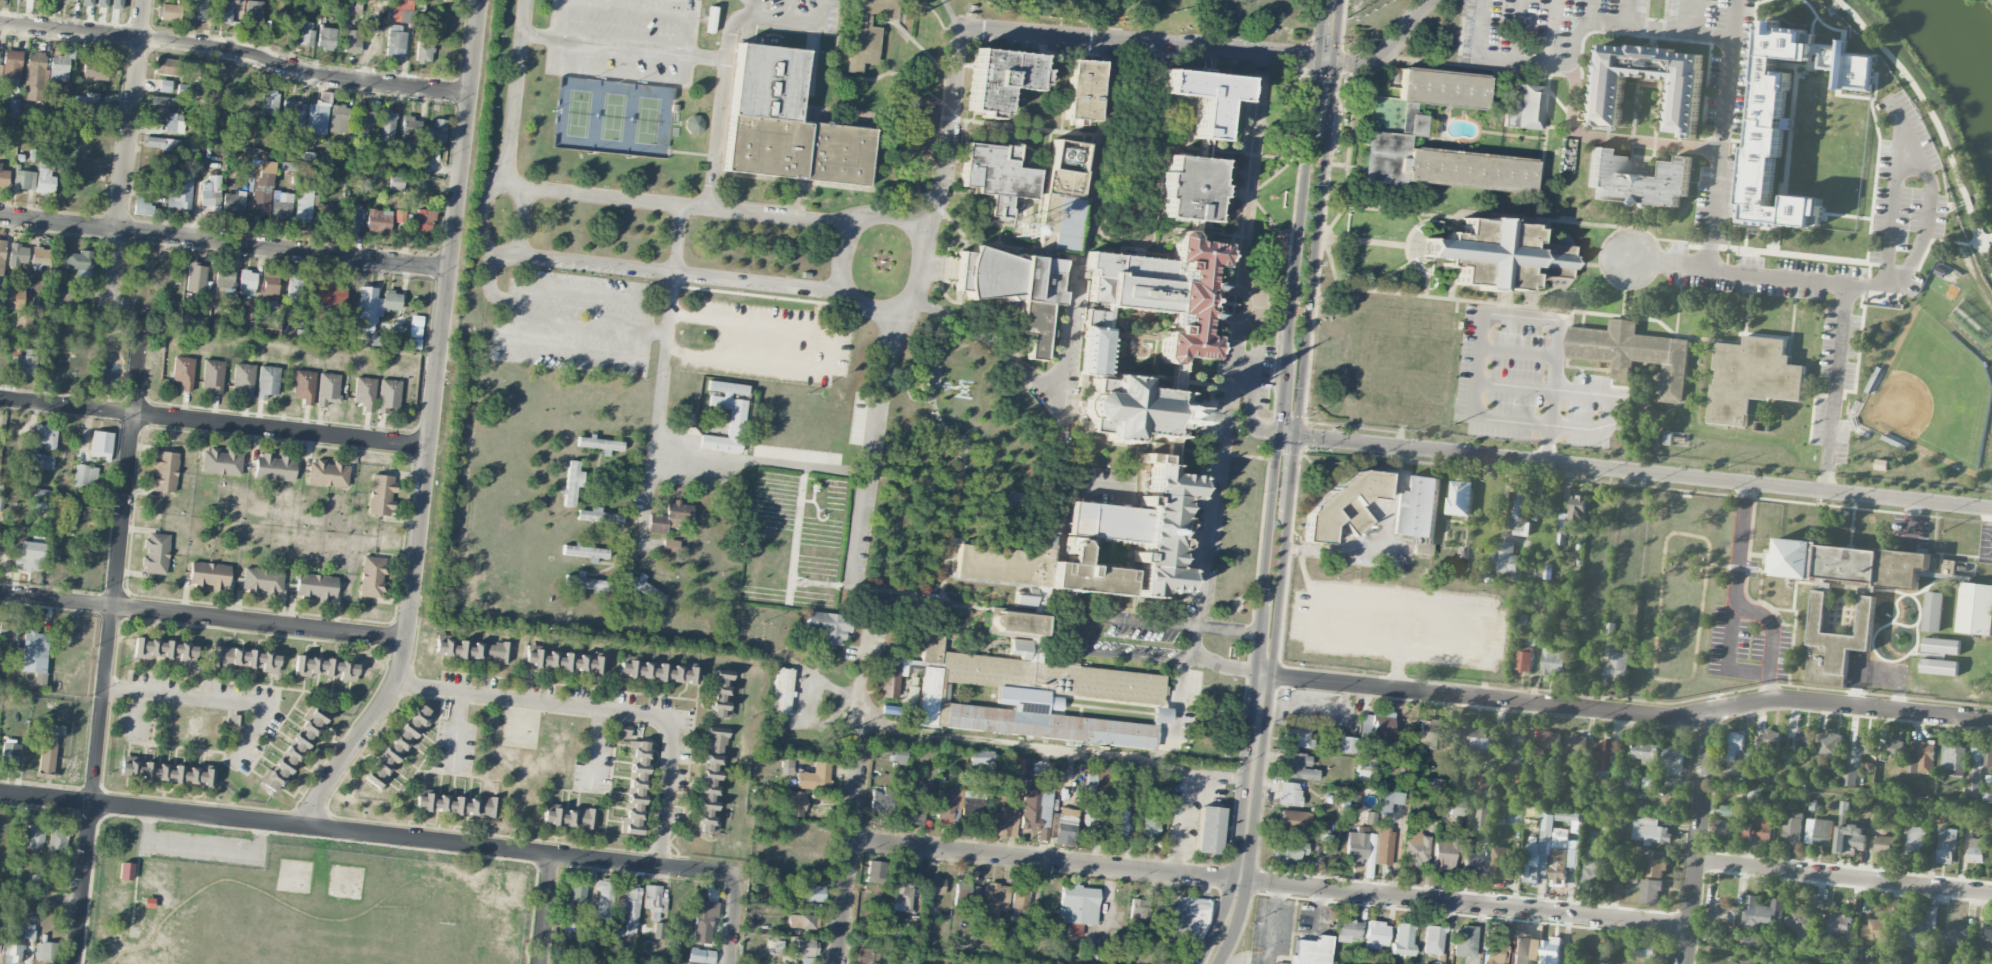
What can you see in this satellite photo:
building: (68, 0)
building: (87, 2)
building: (102, 3)
building: (117, 4)
road: (751, 8)
building: (198, 9)
road: (648, 9)
building: (254, 10)
building: (401, 10)
road: (786, 10)
building: (224, 11)
road: (1588, 11)
building: (170, 12)
road: (820, 12)
road: (1623, 13)
road: (952, 15)
road: (1692, 16)
park: (1195, 17)
road: (557, 18)
road: (1403, 28)
road: (1328, 29)
road: (1516, 30)
building: (867, 31)
road: (1552, 32)
building: (306, 33)
road: (537, 34)
road: (1036, 35)
building: (326, 37)
building: (395, 40)
parking lot: (624, 40)
building: (352, 41)
road: (621, 43)
road: (1577, 48)
road: (236, 50)
building: (423, 50)
road: (707, 55)
traffic signals: (1325, 59)
road: (1350, 62)
building: (60, 64)
building: (166, 66)
building: (11, 67)
building: (95, 69)
road: (725, 70)
road: (617, 73)
building: (999, 73)
building: (35, 76)
building: (165, 85)
building: (1082, 87)
road: (513, 89)
building: (1202, 91)
park: (1941, 91)
road: (1328, 94)
building: (1425, 97)
building: (1684, 100)
building: (269, 102)
building: (162, 103)
building: (1526, 105)
building: (13, 107)
building: (90, 107)
building: (923, 112)
building: (293, 113)
park: (613, 115)
building: (316, 117)
building: (340, 119)
building: (174, 122)
building: (363, 122)
building: (785, 122)
building: (1771, 122)
building: (694, 123)
road: (1938, 123)
building: (386, 126)
building: (410, 127)
building: (435, 131)
road: (1615, 136)
building: (161, 143)
road: (1913, 148)
building: (1567, 155)
road: (1248, 159)
road: (126, 160)
building: (1067, 165)
building: (1440, 165)
building: (997, 172)
building: (265, 176)
building: (4, 178)
building: (44, 178)
building: (24, 179)
building: (1639, 179)
building: (396, 181)
building: (1188, 183)
building: (180, 192)
building: (209, 192)
road: (680, 200)
building: (233, 201)
building: (258, 203)
building: (281, 205)
building: (303, 206)
building: (142, 207)
building: (327, 213)
building: (351, 216)
road: (523, 218)
building: (1062, 219)
road: (863, 220)
building: (379, 221)
building: (424, 221)
road: (679, 236)
road: (1985, 238)
road: (224, 242)
building: (1499, 251)
building: (18, 254)
building: (2, 256)
building: (40, 256)
building: (77, 260)
road: (1674, 263)
road: (625, 267)
building: (1009, 273)
road: (1746, 273)
building: (196, 278)
building: (225, 278)
building: (247, 282)
road: (1310, 283)
road: (488, 284)
building: (1162, 286)
building: (270, 288)
building: (293, 291)
road: (581, 291)
building: (328, 293)
building: (65, 294)
building: (8, 295)
building: (374, 306)
road: (1077, 307)
road: (1484, 315)
building: (197, 320)
road: (577, 322)
building: (1035, 324)
building: (415, 325)
building: (270, 327)
road: (655, 332)
building: (376, 340)
building: (1095, 348)
building: (1361, 349)
road: (572, 350)
road: (826, 350)
road: (1518, 351)
building: (1636, 354)
building: (25, 363)
road: (664, 365)
road: (1286, 365)
building: (183, 372)
building: (213, 375)
building: (1751, 377)
building: (244, 379)
building: (267, 381)
building: (304, 386)
building: (328, 389)
building: (364, 392)
road: (1589, 392)
park: (1931, 394)
building: (388, 396)
building: (1130, 406)
road: (1248, 407)
building: (736, 420)
road: (214, 422)
road: (430, 426)
traffic signals: (1279, 433)
road: (1287, 434)
traffic signals: (1295, 435)
building: (44, 436)
road: (1546, 442)
building: (101, 443)
building: (600, 443)
building: (40, 461)
building: (221, 462)
road: (771, 462)
road: (598, 463)
building: (275, 467)
building: (165, 471)
road: (1643, 471)
building: (328, 473)
road: (1291, 475)
building: (85, 476)
building: (572, 481)
road: (584, 491)
road: (649, 492)
building: (381, 494)
building: (1015, 498)
building: (1460, 498)
road: (811, 499)
parking lot: (639, 501)
building: (1345, 503)
road: (816, 505)
building: (1417, 506)
building: (40, 507)
building: (1518, 509)
road: (826, 510)
road: (1212, 512)
building: (600, 515)
building: (669, 515)
building: (1572, 517)
building: (1143, 526)
road: (795, 535)
park: (793, 539)
road: (653, 543)
building: (670, 545)
building: (585, 550)
building: (156, 553)
road: (614, 553)
building: (29, 556)
building: (1505, 557)
road: (618, 563)
building: (1848, 564)
building: (1041, 565)
building: (1948, 568)
building: (209, 574)
building: (372, 576)
road: (800, 577)
building: (262, 580)
building: (587, 581)
road: (799, 583)
road: (834, 585)
building: (316, 586)
building: (644, 586)
road: (1279, 594)
road: (915, 601)
road: (1402, 606)
road: (1730, 606)
building: (1975, 609)
building: (1932, 612)
road: (203, 617)
building: (1016, 624)
road: (1769, 625)
building: (827, 626)
building: (8, 629)
road: (1193, 643)
building: (1834, 643)
building: (1941, 646)
road: (108, 648)
building: (474, 649)
building: (164, 650)
road: (1154, 653)
building: (35, 654)
building: (1525, 655)
building: (246, 658)
building: (563, 660)
building: (1554, 662)
building: (1618, 663)
road: (1396, 665)
building: (325, 667)
building: (1938, 667)
building: (659, 672)
road: (1263, 673)
building: (1053, 677)
building: (782, 690)
road: (1258, 690)
road: (1265, 691)
building: (721, 696)
road: (212, 697)
building: (932, 697)
road: (1178, 698)
road: (609, 709)
building: (893, 710)
road: (136, 712)
road: (1631, 712)
building: (1160, 715)
building: (234, 719)
building: (1050, 725)
road: (862, 726)
building: (1380, 726)
road: (456, 731)
building: (623, 733)
building: (1431, 733)
road: (962, 736)
building: (1296, 738)
building: (1803, 738)
building: (1772, 739)
building: (1548, 740)
building: (1478, 742)
building: (1758, 742)
building: (1347, 744)
building: (1515, 744)
building: (1865, 744)
building: (1576, 745)
building: (398, 746)
building: (1736, 746)
building: (1829, 746)
building: (49, 747)
road: (595, 747)
building: (1896, 748)
building: (293, 750)
building: (10, 751)
building: (1883, 751)
building: (899, 754)
building: (1647, 754)
building: (1603, 755)
building: (981, 757)
building: (1921, 757)
building: (1953, 759)
building: (1673, 760)
building: (1978, 764)
building: (638, 766)
building: (787, 766)
building: (1298, 766)
building: (1365, 767)
building: (164, 771)
building: (1850, 776)
building: (814, 777)
building: (710, 781)
building: (1520, 781)
building: (1485, 784)
building: (1628, 786)
building: (1096, 788)
road: (1184, 790)
road: (1850, 790)
building: (1755, 793)
building: (1014, 794)
building: (1289, 794)
building: (882, 799)
building: (1389, 800)
building: (795, 803)
building: (458, 804)
building: (946, 804)
building: (974, 804)
building: (1457, 807)
building: (1843, 809)
building: (1726, 810)
building: (1035, 811)
building: (915, 814)
building: (1568, 816)
building: (570, 817)
building: (632, 817)
building: (1117, 817)
building: (1370, 817)
building: (1484, 817)
building: (1002, 818)
building: (1874, 818)
building: (1292, 821)
building: (1149, 825)
building: (1065, 826)
building: (1726, 828)
building: (1209, 829)
building: (1759, 829)
building: (1793, 829)
building: (1649, 830)
building: (1819, 832)
road: (367, 833)
building: (35, 836)
road: (1700, 837)
building: (57, 838)
road: (1247, 839)
building: (1850, 839)
building: (1913, 842)
road: (200, 844)
building: (1884, 844)
building: (1356, 845)
building: (1383, 846)
road: (848, 847)
building: (1415, 848)
building: (1327, 849)
building: (1946, 850)
building: (1977, 850)
building: (1288, 852)
building: (1444, 853)
building: (1563, 856)
building: (1537, 858)
building: (1470, 863)
building: (1502, 863)
building: (1654, 867)
building: (1595, 869)
building: (126, 870)
building: (875, 871)
road: (1844, 877)
building: (32, 879)
road: (1269, 883)
building: (933, 885)
building: (1618, 887)
building: (1650, 891)
building: (577, 892)
building: (810, 893)
building: (902, 894)
building: (966, 894)
building: (603, 899)
building: (654, 899)
building: (994, 899)
building: (1019, 899)
park: (294, 900)
building: (628, 907)
building: (1077, 907)
road: (545, 909)
building: (1138, 909)
building: (756, 912)
building: (1762, 912)
building: (1725, 913)
building: (703, 918)
building: (1190, 918)
road: (731, 919)
building: (1800, 919)
building: (802, 921)
building: (1837, 925)
building: (658, 930)
building: (1348, 930)
building: (1877, 930)
building: (1919, 931)
building: (1377, 934)
building: (1954, 935)
building: (1404, 939)
building: (869, 940)
building: (1432, 940)
building: (1464, 941)
building: (1984, 941)
building: (1, 944)
building: (778, 946)
building: (806, 947)
building: (1525, 947)
building: (1646, 949)
building: (45, 950)
building: (1848, 950)
building: (1311, 951)
building: (1550, 951)
building: (13, 953)
building: (1495, 953)
road: (1778, 954)
building: (695, 955)
building: (867, 956)
road: (1222, 957)
building: (1902, 959)
building: (1433, 963)

